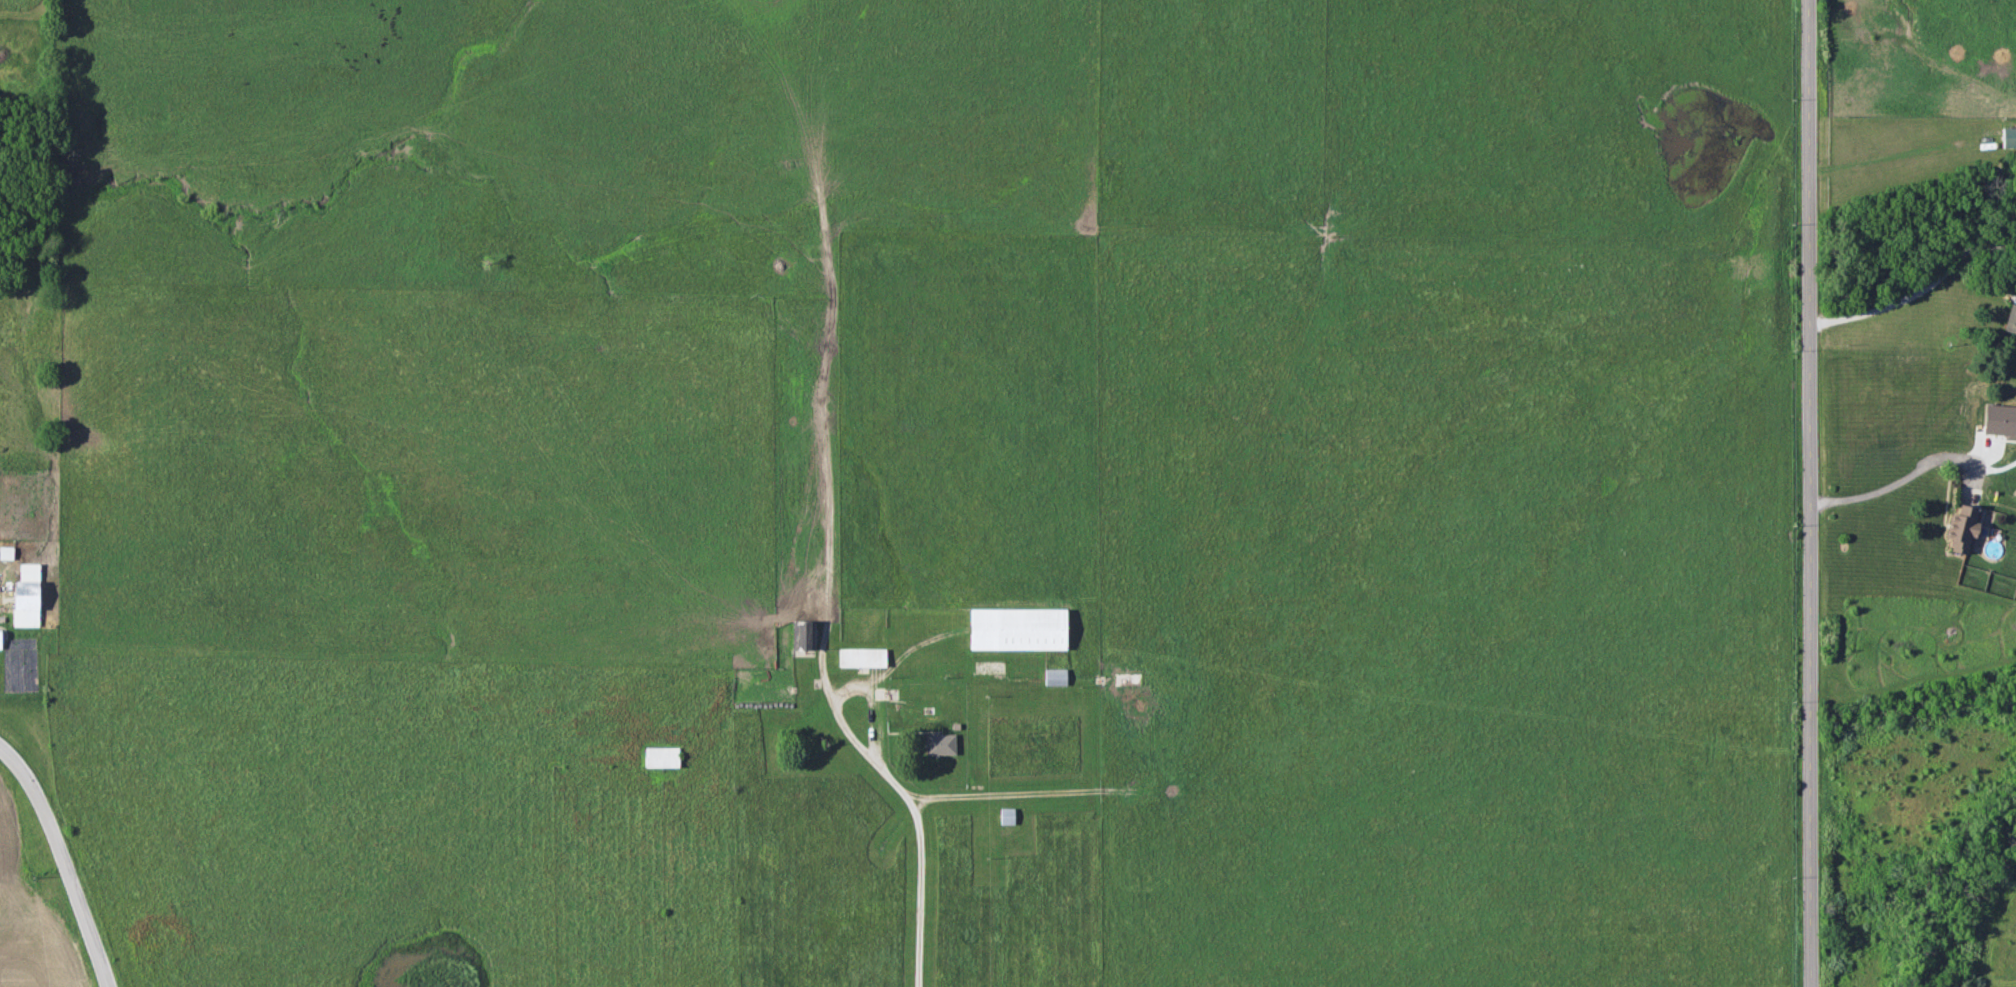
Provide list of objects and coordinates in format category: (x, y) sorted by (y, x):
building: (2008, 136)
road: (1917, 291)
building: (2010, 318)
road: (1900, 479)
road: (1808, 493)
building: (1961, 527)
building: (6, 552)
building: (26, 595)
building: (1017, 628)
building: (802, 634)
building: (0, 646)
building: (861, 656)
building: (1054, 676)
building: (939, 743)
building: (661, 755)
road: (909, 805)
road: (60, 861)
crop: (31, 925)

